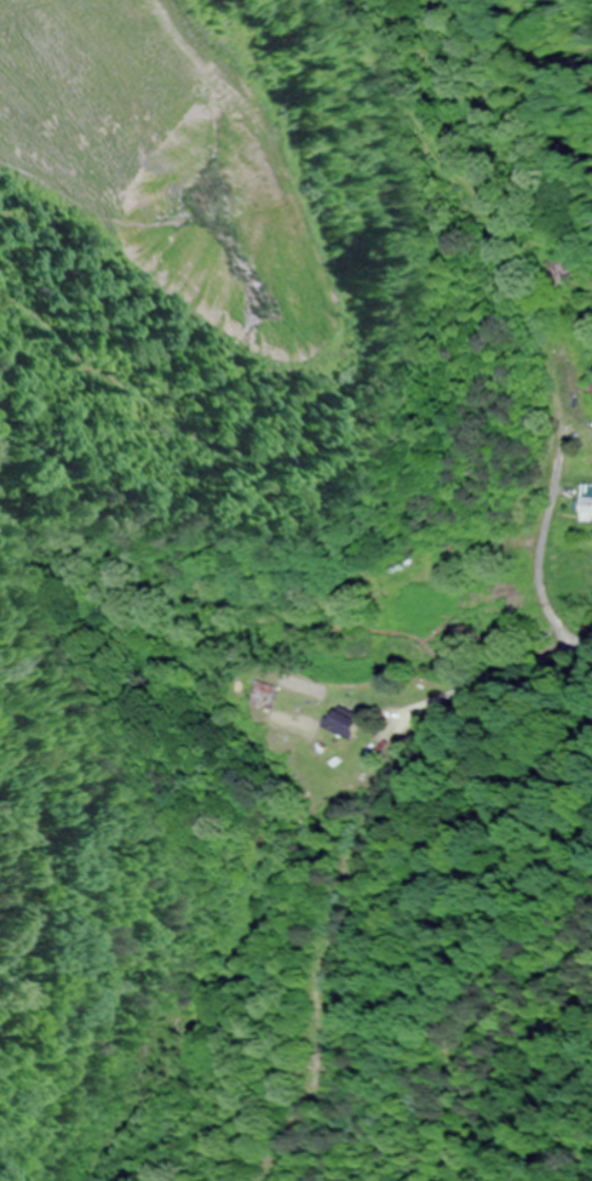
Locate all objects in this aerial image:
building: (558, 273)
road: (454, 301)
building: (587, 504)
road: (287, 611)
building: (270, 696)
building: (345, 725)

